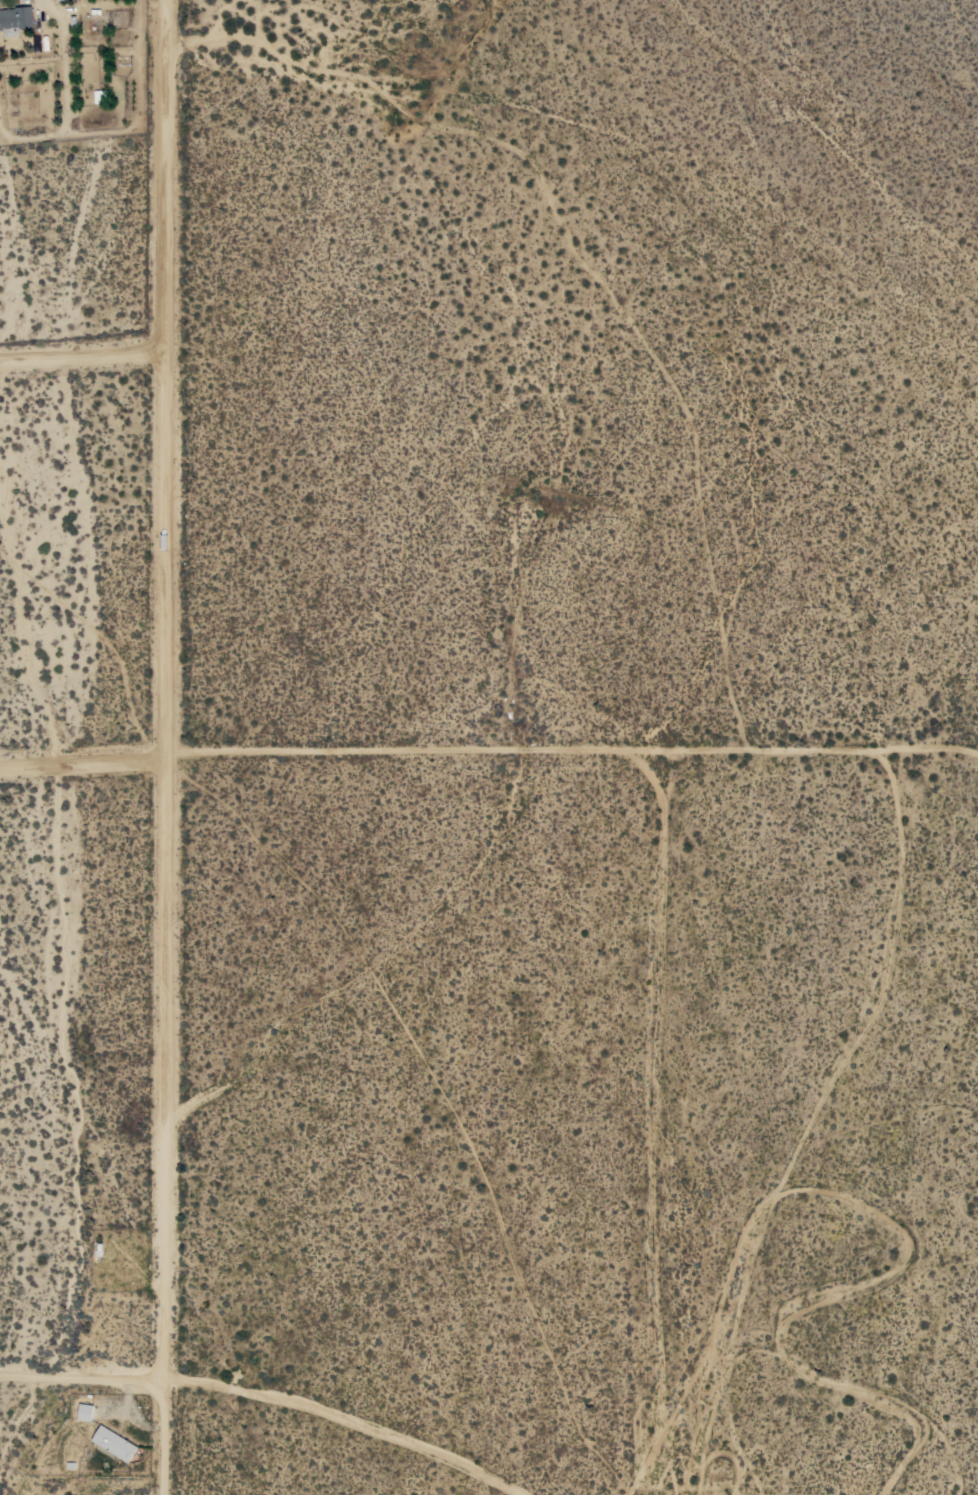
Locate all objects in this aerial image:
building: (15, 20)
road: (82, 359)
road: (165, 747)
road: (571, 752)
road: (82, 761)
road: (81, 1379)
building: (85, 1412)
road: (353, 1417)
building: (114, 1443)

